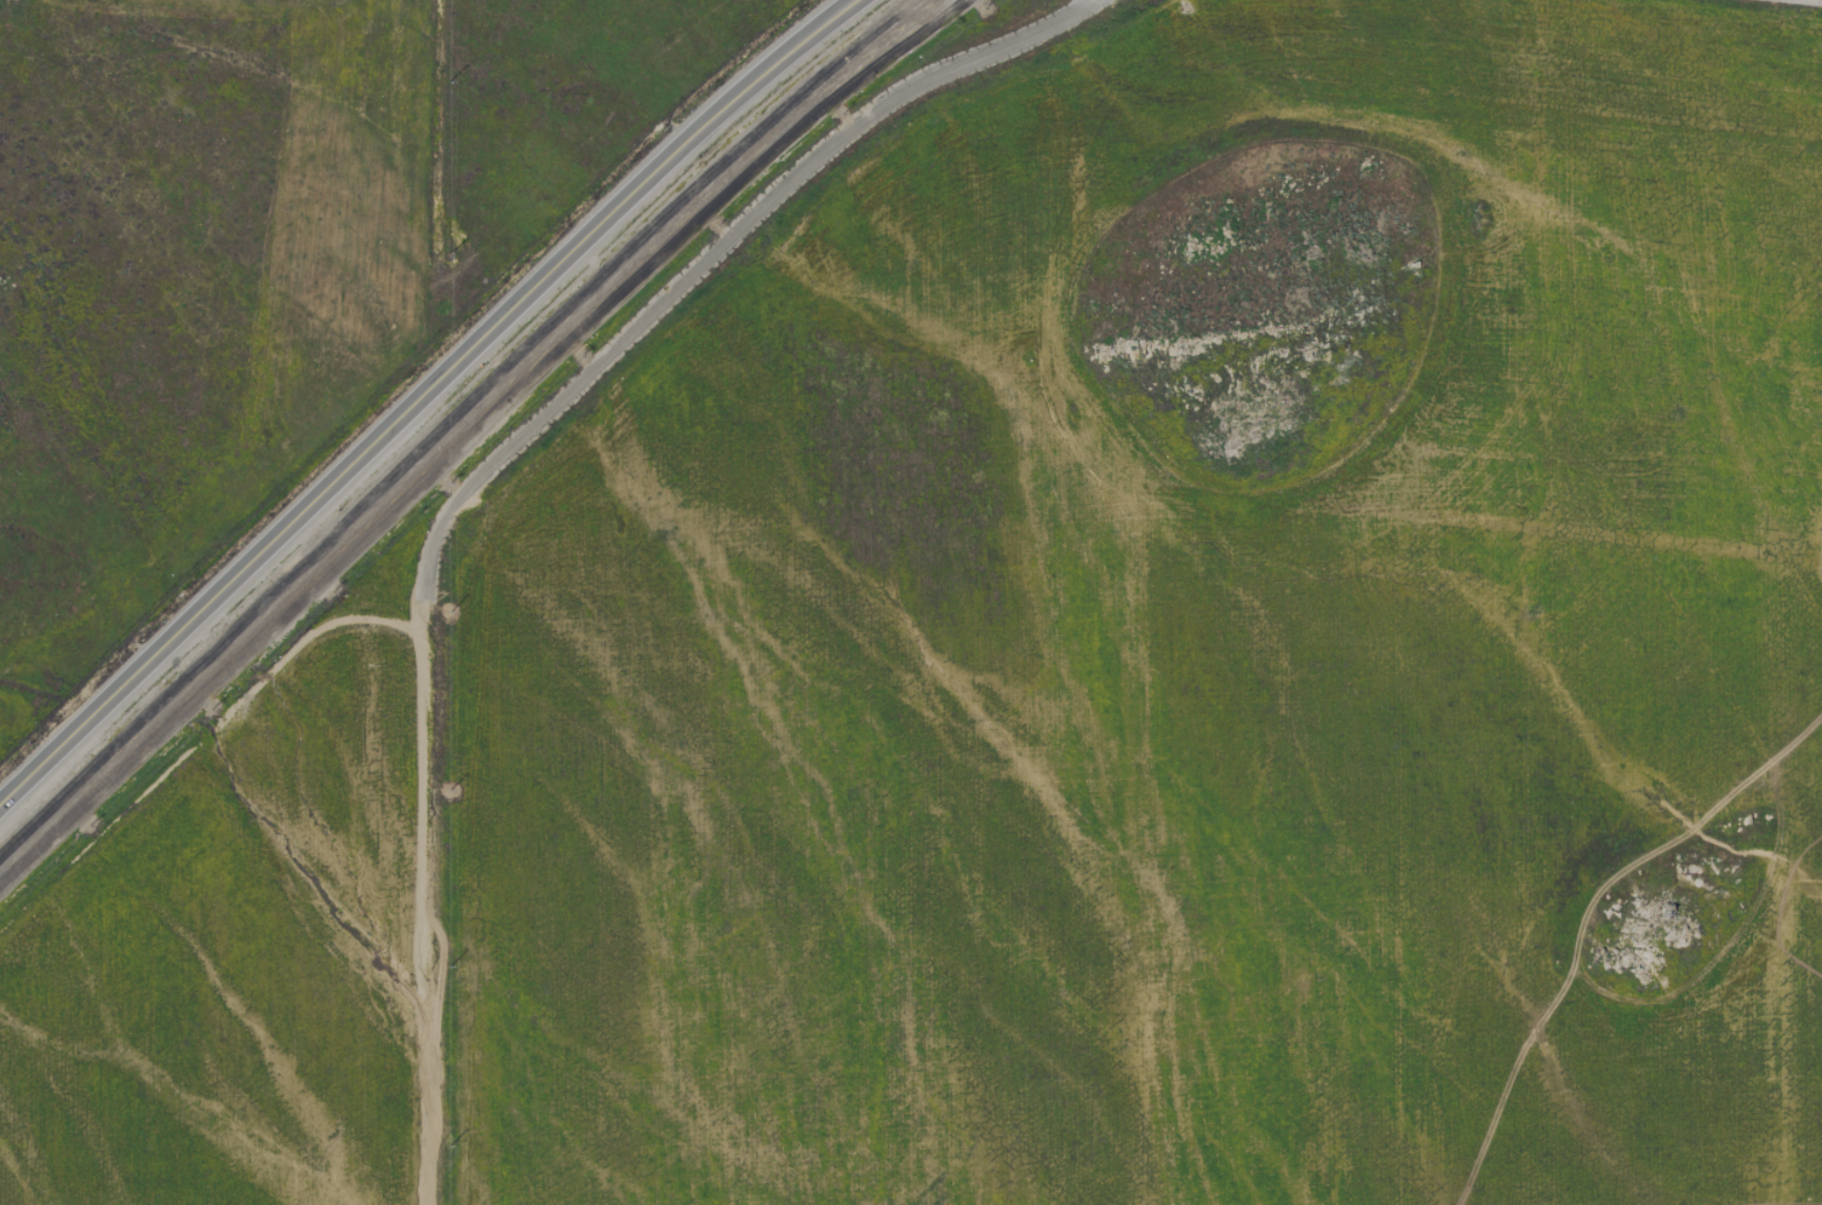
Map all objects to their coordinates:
road: (420, 395)
road: (491, 465)
road: (197, 741)

